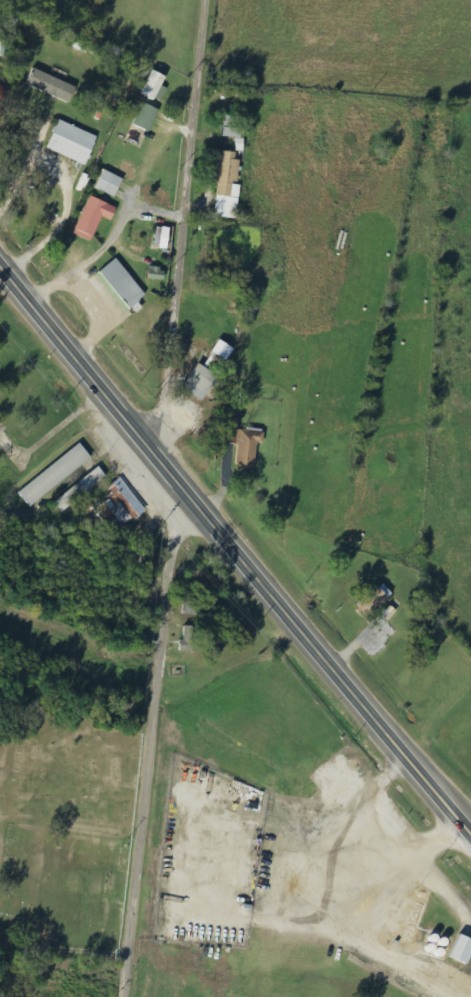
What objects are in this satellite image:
building: (155, 84)
building: (52, 85)
building: (230, 91)
building: (147, 116)
building: (232, 127)
building: (74, 142)
building: (110, 183)
building: (229, 186)
building: (95, 217)
road: (181, 226)
building: (164, 237)
building: (158, 274)
building: (123, 284)
building: (225, 350)
building: (202, 382)
building: (242, 439)
building: (56, 475)
building: (79, 490)
building: (121, 504)
road: (231, 542)
building: (377, 599)
building: (192, 639)
road: (149, 746)
building: (463, 950)
road: (63, 958)

